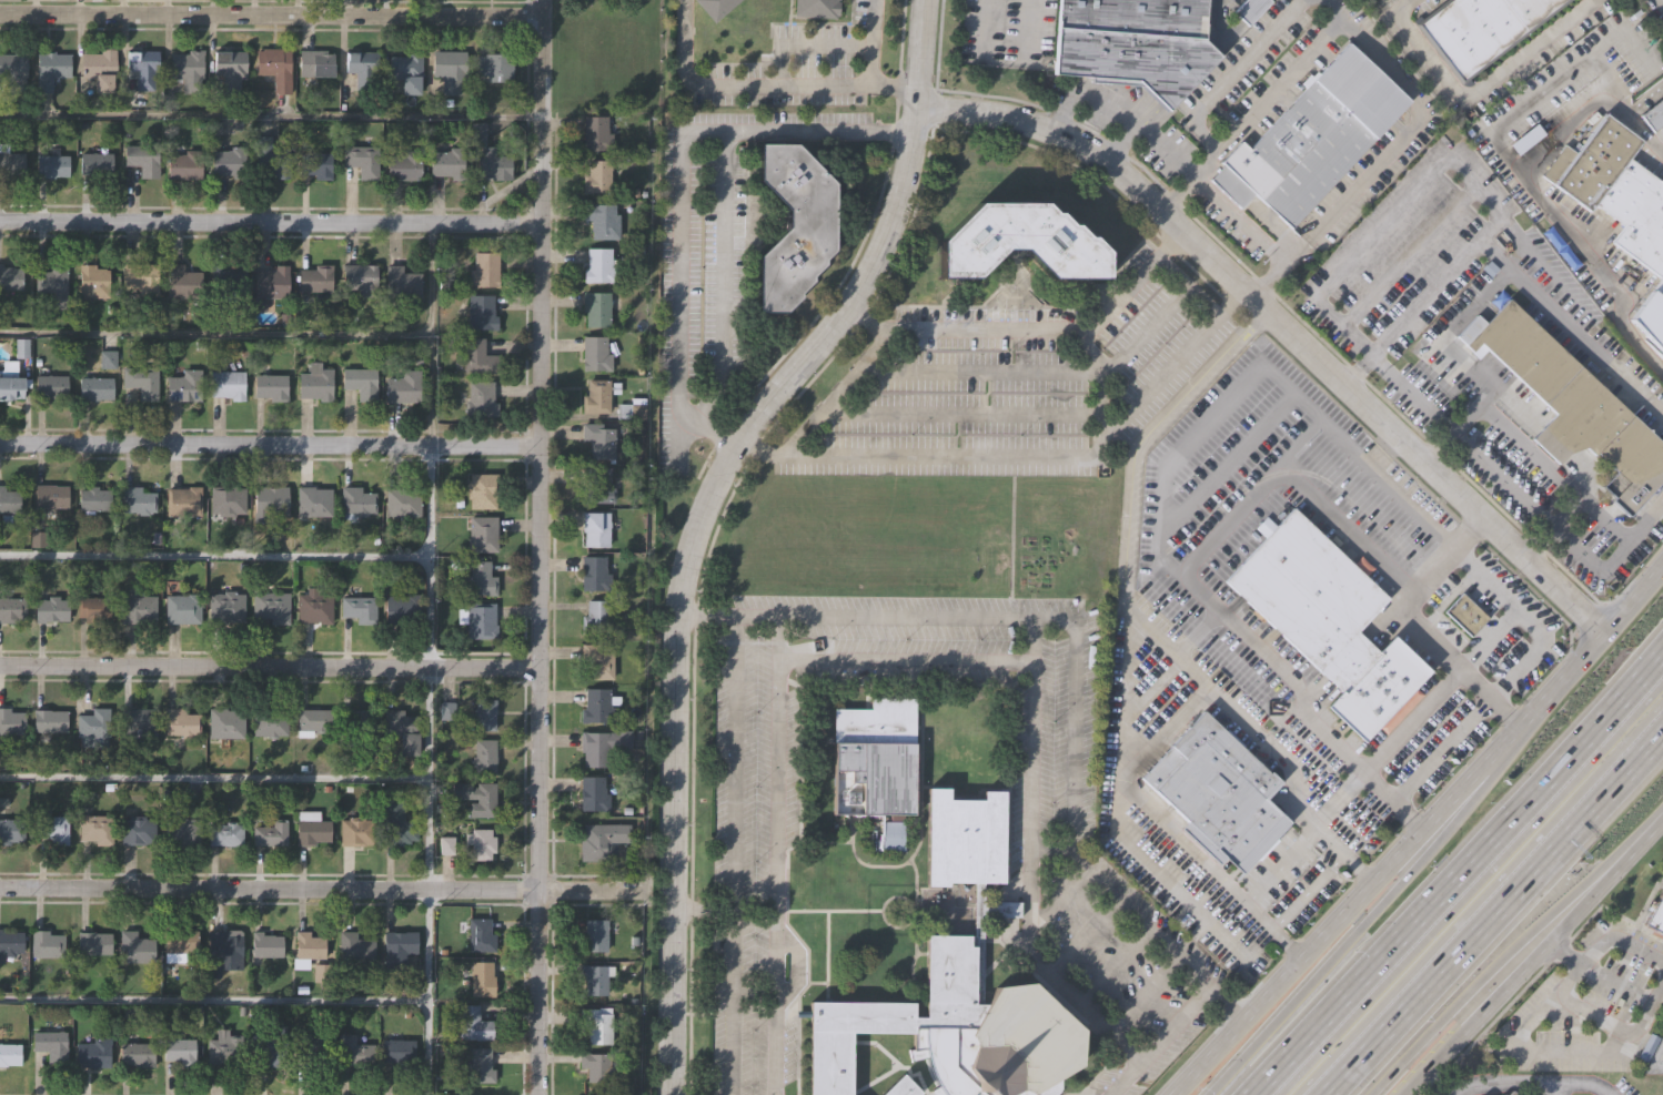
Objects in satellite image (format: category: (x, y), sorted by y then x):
building: (716, 7)
road: (1657, 7)
building: (817, 8)
building: (1248, 8)
road: (270, 13)
road: (981, 22)
road: (1020, 23)
building: (1482, 28)
road: (1624, 31)
building: (1130, 41)
road: (875, 44)
building: (315, 62)
building: (364, 65)
building: (496, 65)
building: (143, 67)
building: (189, 67)
building: (274, 67)
building: (52, 68)
building: (102, 68)
building: (16, 69)
building: (230, 69)
building: (450, 70)
building: (407, 72)
road: (1231, 73)
road: (537, 80)
road: (759, 88)
road: (1480, 91)
road: (1535, 97)
road: (1267, 98)
road: (1645, 98)
building: (1654, 114)
road: (269, 115)
building: (597, 133)
building: (1316, 135)
road: (1121, 146)
road: (1389, 153)
road: (1166, 155)
building: (272, 158)
building: (361, 158)
building: (52, 159)
building: (142, 159)
building: (231, 160)
building: (12, 161)
building: (315, 161)
building: (98, 163)
building: (187, 164)
building: (492, 165)
building: (402, 166)
building: (450, 166)
building: (597, 176)
building: (1616, 190)
road: (1532, 192)
road: (679, 193)
road: (1175, 194)
building: (602, 220)
road: (268, 224)
building: (793, 227)
building: (1017, 243)
road: (1410, 256)
building: (599, 265)
building: (485, 271)
road: (1333, 274)
building: (11, 275)
building: (143, 276)
building: (318, 276)
building: (362, 278)
building: (185, 280)
building: (228, 280)
building: (94, 281)
building: (274, 281)
building: (403, 281)
road: (724, 281)
building: (54, 283)
road: (1524, 283)
road: (1437, 284)
road: (1181, 287)
road: (1113, 301)
building: (596, 306)
building: (483, 311)
building: (1651, 316)
road: (1284, 327)
road: (1140, 331)
road: (977, 332)
road: (215, 335)
road: (1444, 338)
building: (595, 352)
building: (480, 356)
road: (977, 374)
road: (1153, 377)
building: (143, 382)
building: (316, 382)
building: (362, 382)
building: (230, 384)
building: (14, 386)
building: (53, 386)
building: (187, 386)
building: (273, 386)
building: (404, 387)
building: (97, 388)
road: (1098, 391)
building: (597, 395)
road: (836, 395)
building: (483, 399)
road: (1217, 406)
building: (1575, 406)
building: (632, 408)
road: (959, 416)
building: (601, 438)
road: (677, 444)
road: (1301, 445)
road: (268, 447)
road: (940, 457)
road: (1540, 460)
road: (1224, 462)
road: (1287, 475)
building: (596, 487)
building: (484, 489)
road: (1132, 489)
building: (52, 494)
building: (10, 498)
building: (95, 498)
building: (139, 498)
building: (185, 499)
building: (315, 499)
building: (359, 499)
building: (230, 500)
building: (404, 500)
building: (272, 501)
road: (1662, 503)
road: (1662, 504)
road: (703, 519)
building: (596, 527)
building: (483, 533)
road: (1444, 544)
road: (214, 556)
building: (595, 571)
building: (481, 578)
road: (1405, 586)
road: (1413, 594)
building: (272, 605)
building: (140, 606)
building: (228, 606)
building: (316, 606)
building: (184, 607)
building: (361, 607)
building: (13, 608)
building: (53, 608)
building: (97, 608)
building: (403, 609)
building: (1467, 611)
building: (595, 615)
road: (706, 615)
road: (756, 616)
building: (480, 619)
road: (1526, 619)
building: (1330, 620)
road: (536, 628)
road: (1489, 639)
road: (1263, 653)
road: (430, 659)
building: (599, 659)
road: (904, 662)
road: (268, 668)
road: (1571, 675)
road: (1150, 681)
road: (1440, 687)
road: (1123, 692)
building: (599, 703)
building: (485, 713)
building: (316, 719)
building: (357, 720)
building: (50, 721)
building: (268, 721)
building: (11, 722)
building: (181, 722)
building: (224, 722)
road: (1075, 722)
building: (137, 723)
building: (94, 728)
building: (404, 729)
road: (775, 729)
road: (1163, 729)
road: (1333, 741)
building: (603, 746)
road: (1433, 749)
building: (486, 753)
building: (877, 761)
road: (214, 779)
building: (1216, 791)
building: (594, 794)
building: (477, 797)
road: (1031, 801)
building: (400, 823)
road: (1438, 824)
building: (54, 827)
building: (12, 829)
building: (310, 829)
building: (95, 830)
building: (137, 831)
building: (182, 831)
building: (355, 832)
building: (224, 834)
building: (270, 834)
building: (602, 840)
building: (484, 843)
road: (1635, 846)
road: (1051, 848)
road: (732, 855)
road: (1284, 868)
road: (1158, 873)
road: (1459, 875)
road: (321, 889)
road: (1471, 889)
road: (1476, 895)
road: (1132, 913)
road: (1492, 913)
building: (1655, 913)
road: (1546, 923)
road: (1319, 931)
building: (483, 933)
building: (596, 933)
road: (1619, 940)
building: (402, 941)
building: (95, 944)
building: (181, 944)
building: (49, 945)
building: (11, 946)
building: (269, 946)
building: (357, 946)
building: (311, 947)
building: (138, 949)
building: (225, 951)
road: (1553, 953)
road: (798, 967)
road: (1322, 969)
building: (596, 977)
building: (483, 979)
road: (1161, 984)
road: (1505, 984)
building: (960, 985)
road: (1065, 993)
road: (213, 1000)
road: (1202, 1000)
road: (1096, 1021)
building: (474, 1024)
building: (597, 1024)
road: (1425, 1034)
building: (273, 1045)
building: (51, 1046)
building: (316, 1046)
building: (226, 1050)
building: (181, 1051)
building: (356, 1052)
building: (400, 1052)
road: (1150, 1052)
road: (1555, 1052)
building: (94, 1053)
building: (138, 1053)
building: (10, 1054)
building: (597, 1064)
building: (478, 1066)
road: (1227, 1076)
road: (1509, 1081)
road: (1433, 1084)
building: (906, 1088)
building: (1511, 1093)

